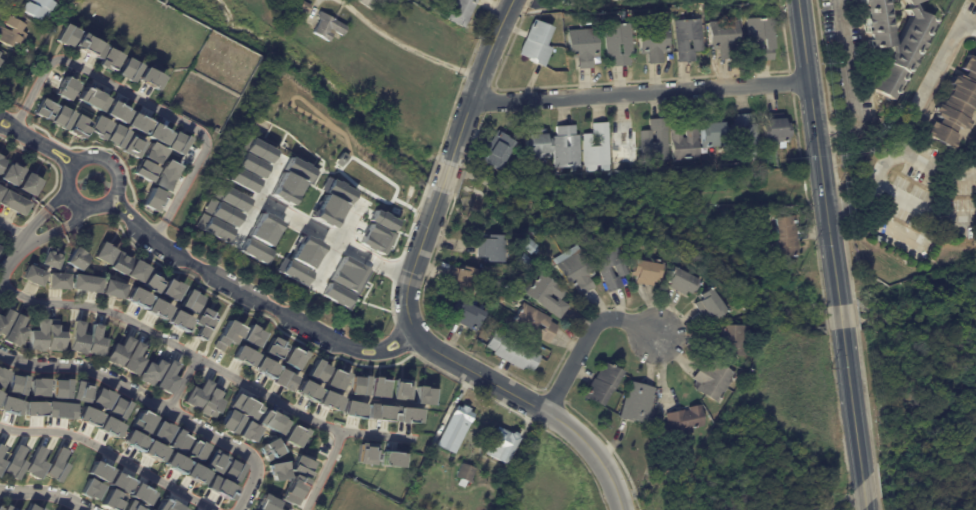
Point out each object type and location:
building: (596, 0)
building: (369, 4)
building: (36, 8)
building: (305, 8)
building: (461, 12)
building: (327, 28)
building: (11, 32)
building: (761, 36)
building: (725, 37)
building: (688, 38)
building: (655, 41)
building: (80, 42)
building: (537, 42)
building: (619, 42)
building: (584, 45)
road: (405, 46)
building: (900, 49)
building: (1, 58)
building: (109, 60)
building: (1, 64)
building: (128, 69)
building: (148, 78)
road: (476, 81)
building: (64, 88)
road: (640, 92)
road: (853, 94)
building: (92, 99)
road: (143, 102)
building: (953, 105)
building: (44, 110)
building: (116, 112)
road: (916, 113)
building: (70, 122)
building: (137, 123)
building: (99, 127)
building: (715, 131)
building: (775, 132)
building: (157, 134)
building: (744, 135)
building: (687, 138)
building: (657, 140)
road: (37, 141)
building: (124, 141)
building: (626, 142)
building: (176, 143)
building: (538, 143)
building: (567, 146)
building: (598, 147)
building: (255, 149)
building: (498, 149)
road: (819, 152)
building: (1, 161)
building: (149, 162)
road: (74, 163)
building: (248, 164)
road: (934, 169)
building: (296, 171)
building: (12, 173)
road: (444, 176)
building: (240, 178)
building: (30, 183)
building: (158, 186)
building: (283, 187)
building: (1, 188)
building: (336, 192)
building: (230, 197)
road: (258, 198)
road: (56, 199)
building: (13, 202)
road: (923, 210)
building: (322, 211)
building: (222, 214)
building: (374, 215)
road: (294, 216)
road: (298, 216)
road: (74, 217)
building: (748, 219)
road: (34, 221)
building: (266, 224)
road: (889, 227)
road: (13, 228)
building: (212, 230)
road: (44, 234)
building: (361, 234)
building: (787, 235)
building: (301, 245)
building: (531, 246)
building: (253, 248)
road: (354, 248)
building: (493, 248)
building: (105, 252)
road: (11, 254)
building: (52, 257)
road: (325, 257)
building: (77, 258)
building: (526, 260)
building: (121, 262)
building: (344, 265)
building: (290, 268)
building: (575, 269)
building: (621, 269)
building: (138, 270)
building: (646, 271)
building: (32, 275)
building: (57, 280)
building: (464, 280)
building: (150, 281)
building: (682, 281)
building: (85, 282)
building: (511, 285)
building: (113, 288)
building: (169, 288)
building: (332, 292)
building: (439, 293)
building: (546, 295)
building: (134, 296)
road: (256, 297)
building: (188, 300)
building: (710, 303)
building: (155, 307)
building: (465, 314)
road: (841, 318)
building: (5, 319)
building: (177, 320)
building: (201, 321)
building: (532, 323)
building: (16, 330)
building: (225, 334)
building: (250, 334)
building: (38, 336)
building: (54, 336)
building: (77, 338)
road: (583, 339)
building: (729, 340)
building: (95, 341)
building: (274, 347)
building: (510, 351)
building: (119, 352)
building: (242, 354)
building: (293, 357)
building: (134, 359)
road: (203, 360)
road: (369, 365)
building: (264, 366)
road: (467, 368)
building: (316, 370)
building: (153, 371)
building: (2, 375)
building: (168, 378)
building: (282, 378)
building: (336, 378)
building: (711, 379)
building: (14, 383)
road: (183, 383)
building: (357, 384)
building: (600, 384)
building: (36, 386)
building: (58, 387)
building: (377, 387)
building: (397, 388)
building: (306, 389)
building: (79, 390)
road: (135, 391)
building: (196, 394)
building: (419, 394)
building: (101, 398)
building: (327, 400)
building: (210, 401)
building: (635, 402)
building: (9, 405)
building: (242, 405)
road: (852, 406)
building: (118, 407)
building: (33, 408)
building: (350, 408)
building: (60, 410)
building: (379, 411)
building: (405, 414)
building: (87, 415)
building: (140, 420)
building: (229, 421)
building: (270, 421)
building: (683, 422)
building: (109, 427)
building: (453, 429)
building: (160, 430)
building: (246, 431)
building: (293, 434)
building: (132, 440)
building: (177, 440)
building: (502, 444)
building: (0, 447)
building: (269, 447)
building: (196, 449)
building: (151, 450)
road: (111, 453)
building: (364, 453)
building: (389, 459)
building: (214, 460)
building: (0, 461)
building: (12, 462)
building: (174, 462)
building: (33, 463)
building: (53, 465)
building: (300, 465)
building: (490, 467)
building: (232, 470)
road: (323, 470)
building: (99, 471)
building: (276, 471)
building: (193, 473)
building: (466, 473)
building: (119, 483)
building: (218, 487)
road: (248, 488)
building: (90, 489)
building: (291, 489)
road: (863, 493)
building: (141, 494)
road: (47, 495)
building: (111, 500)
building: (265, 503)
building: (168, 505)
building: (32, 506)
building: (132, 506)
building: (7, 507)
road: (865, 508)
building: (0, 509)
building: (147, 509)

